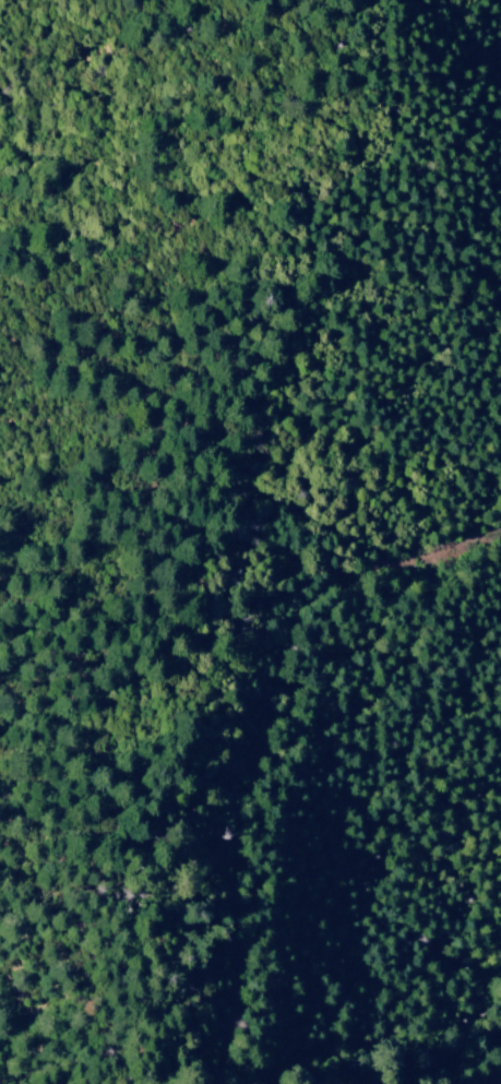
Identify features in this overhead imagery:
road: (252, 734)

